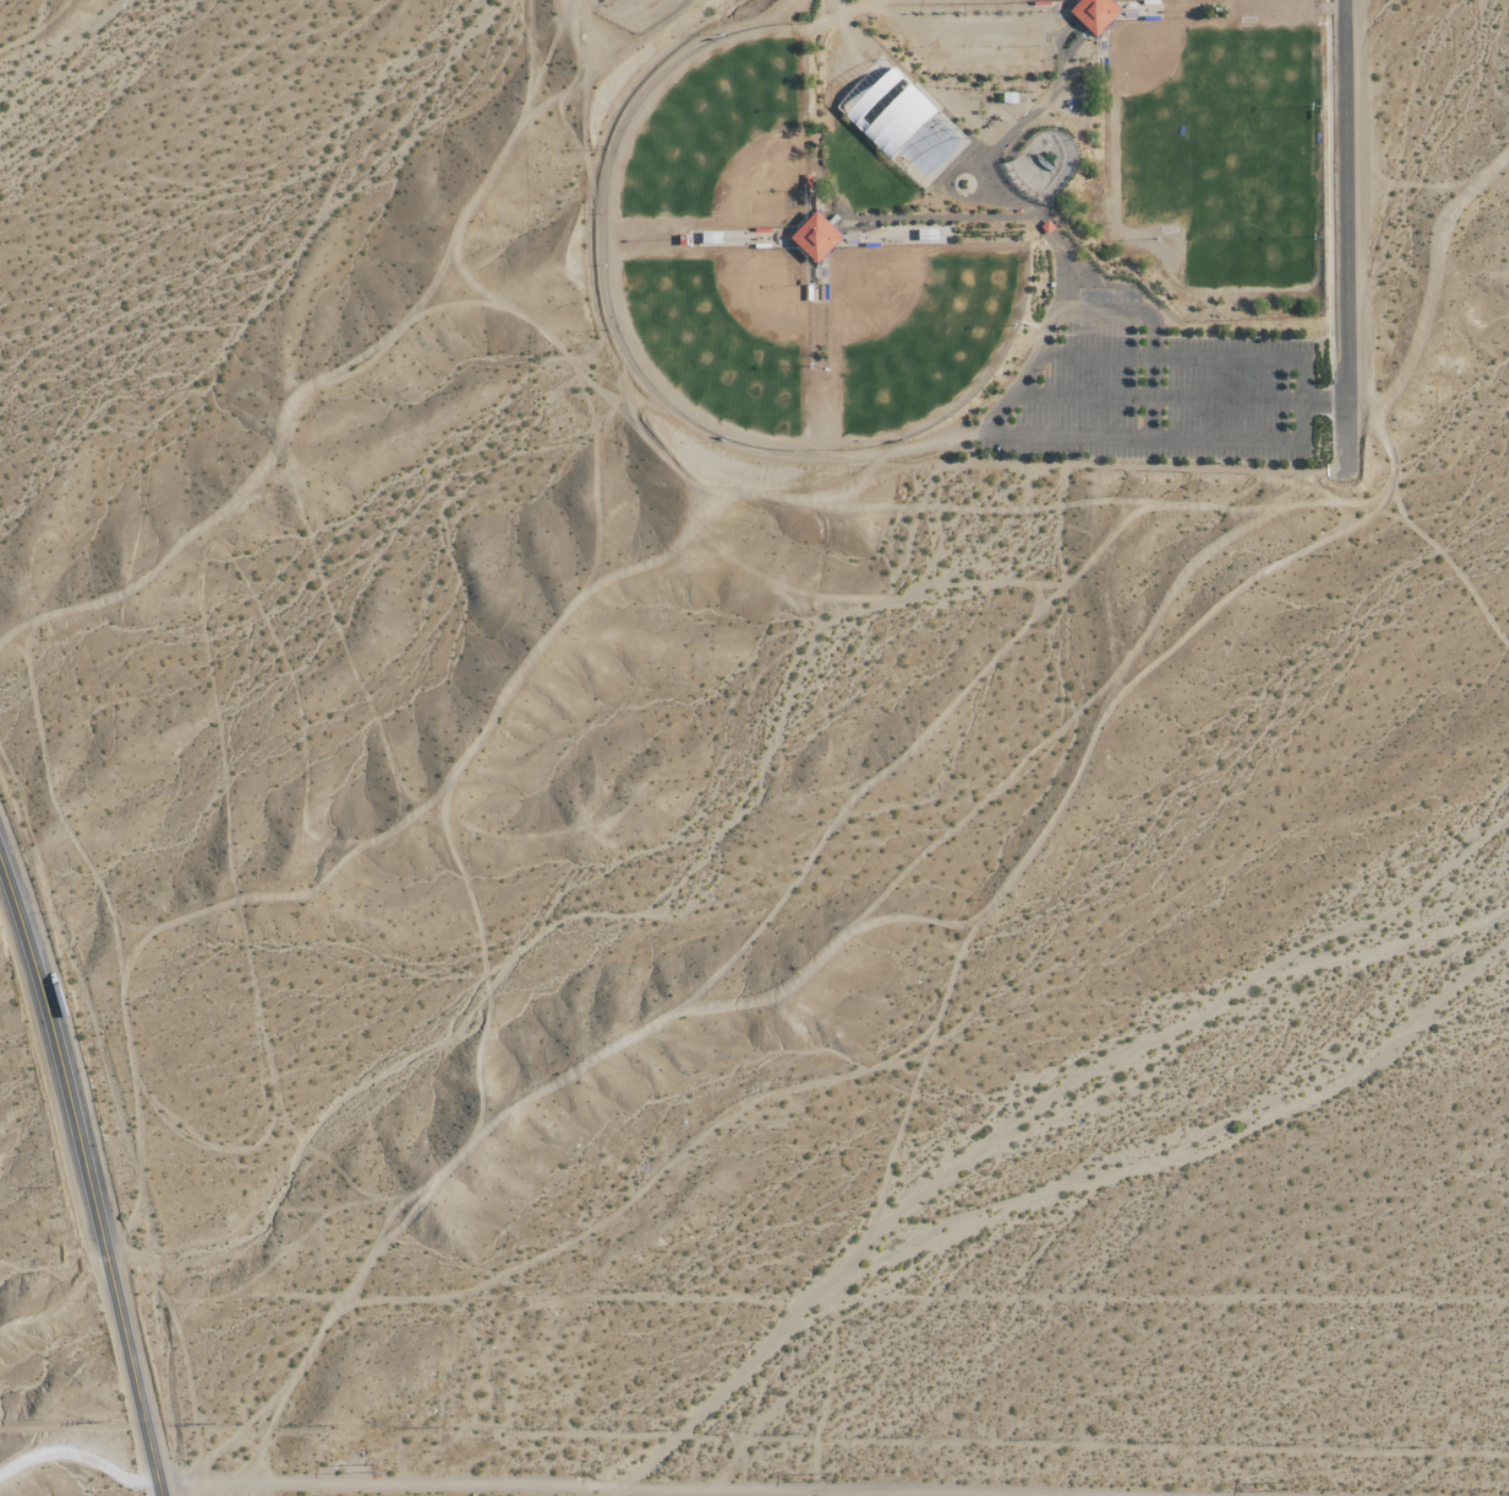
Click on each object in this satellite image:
building: (1096, 13)
road: (1336, 231)
building: (817, 236)
road: (1027, 371)
road: (92, 1179)
power tower: (383, 1468)
power tower: (928, 1470)
road: (181, 1485)
power tower: (1300, 1485)

